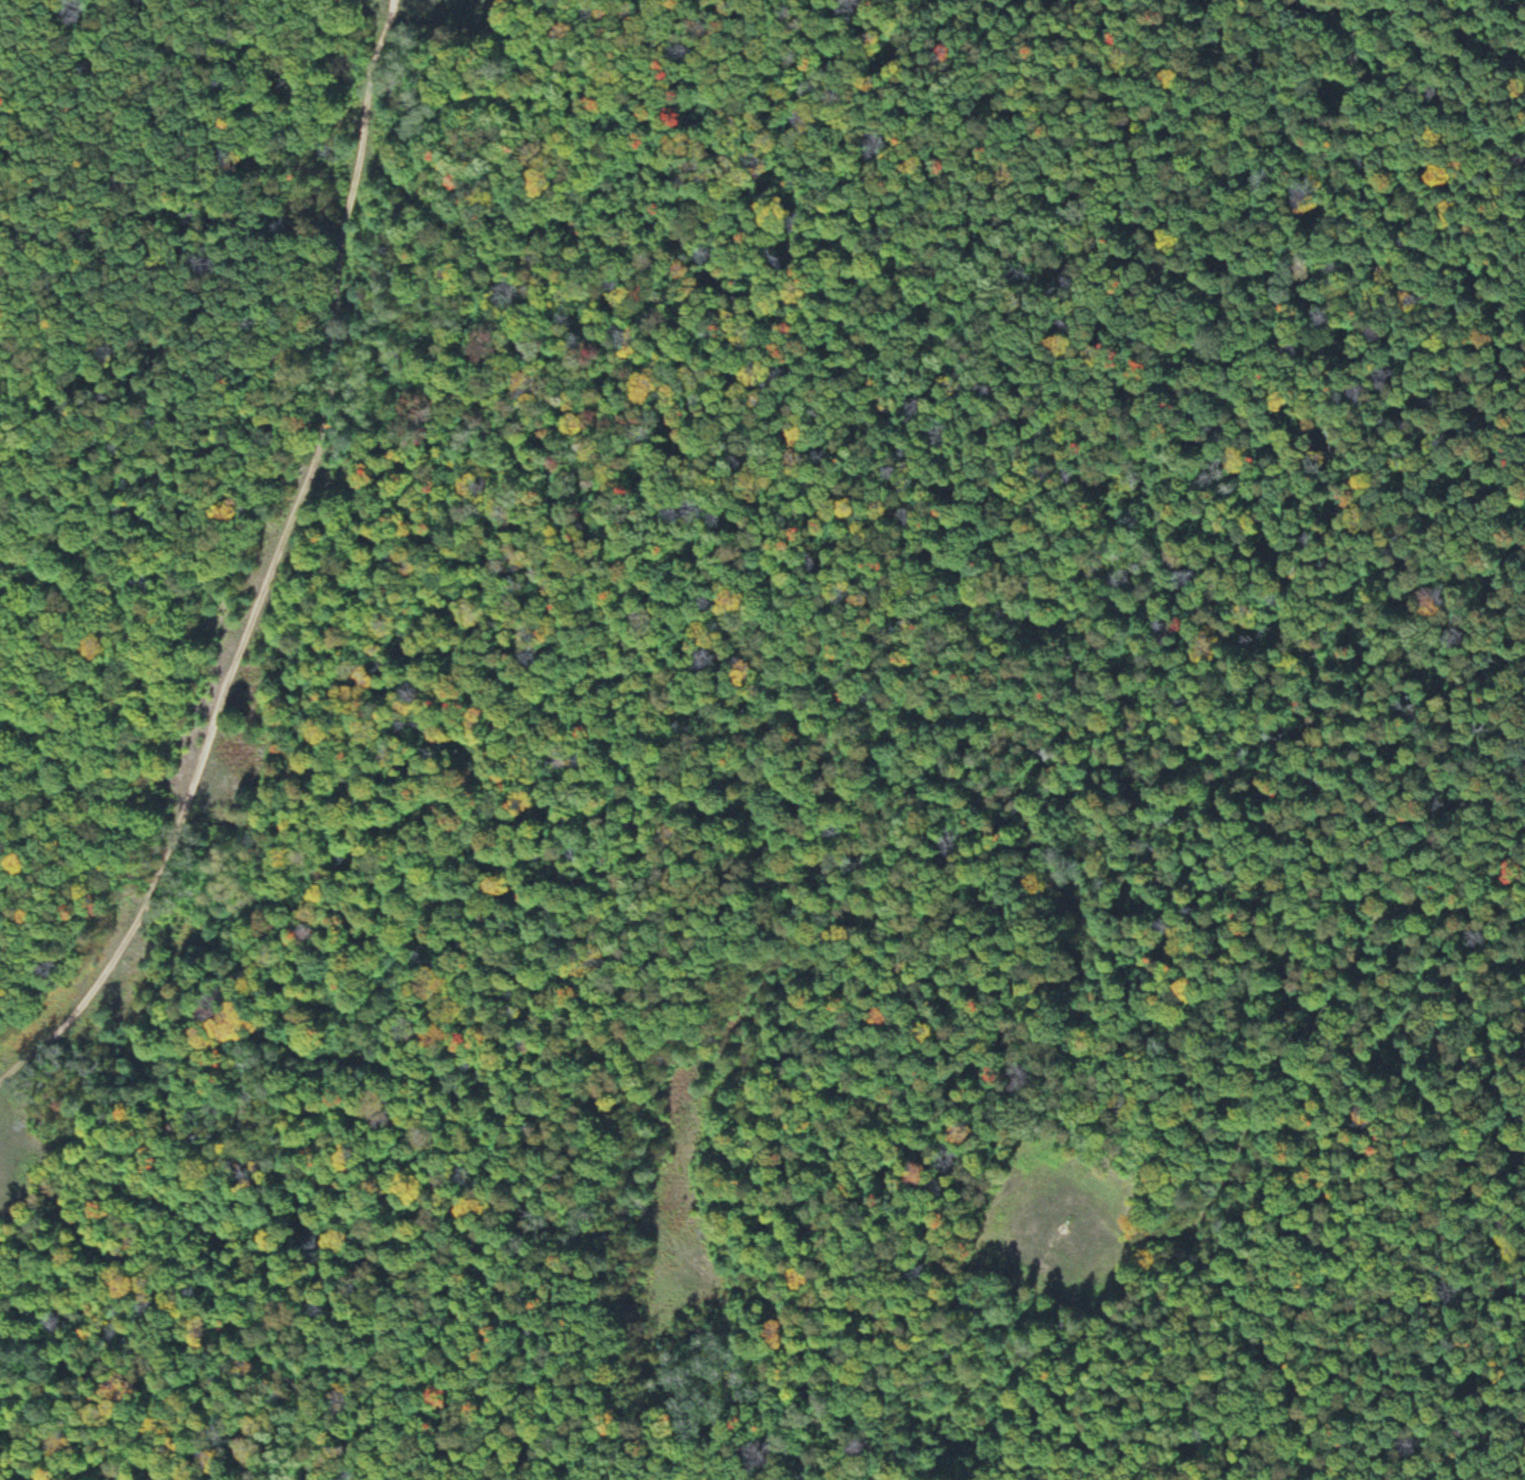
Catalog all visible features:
road: (268, 572)
road: (3, 1088)

